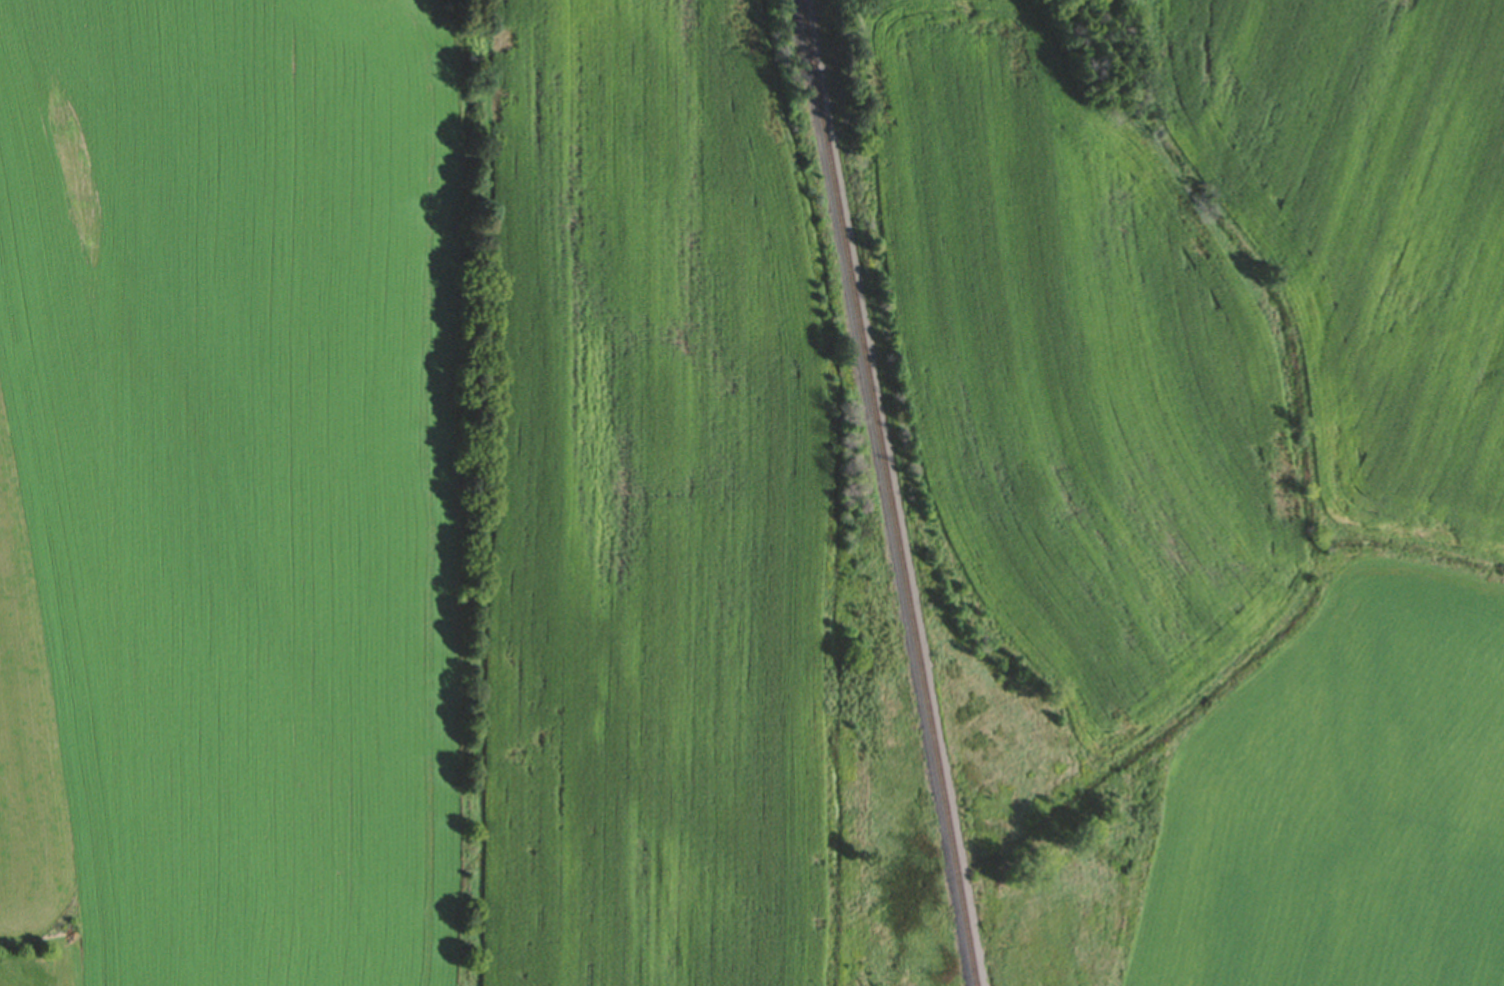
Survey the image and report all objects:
railway: (895, 493)

